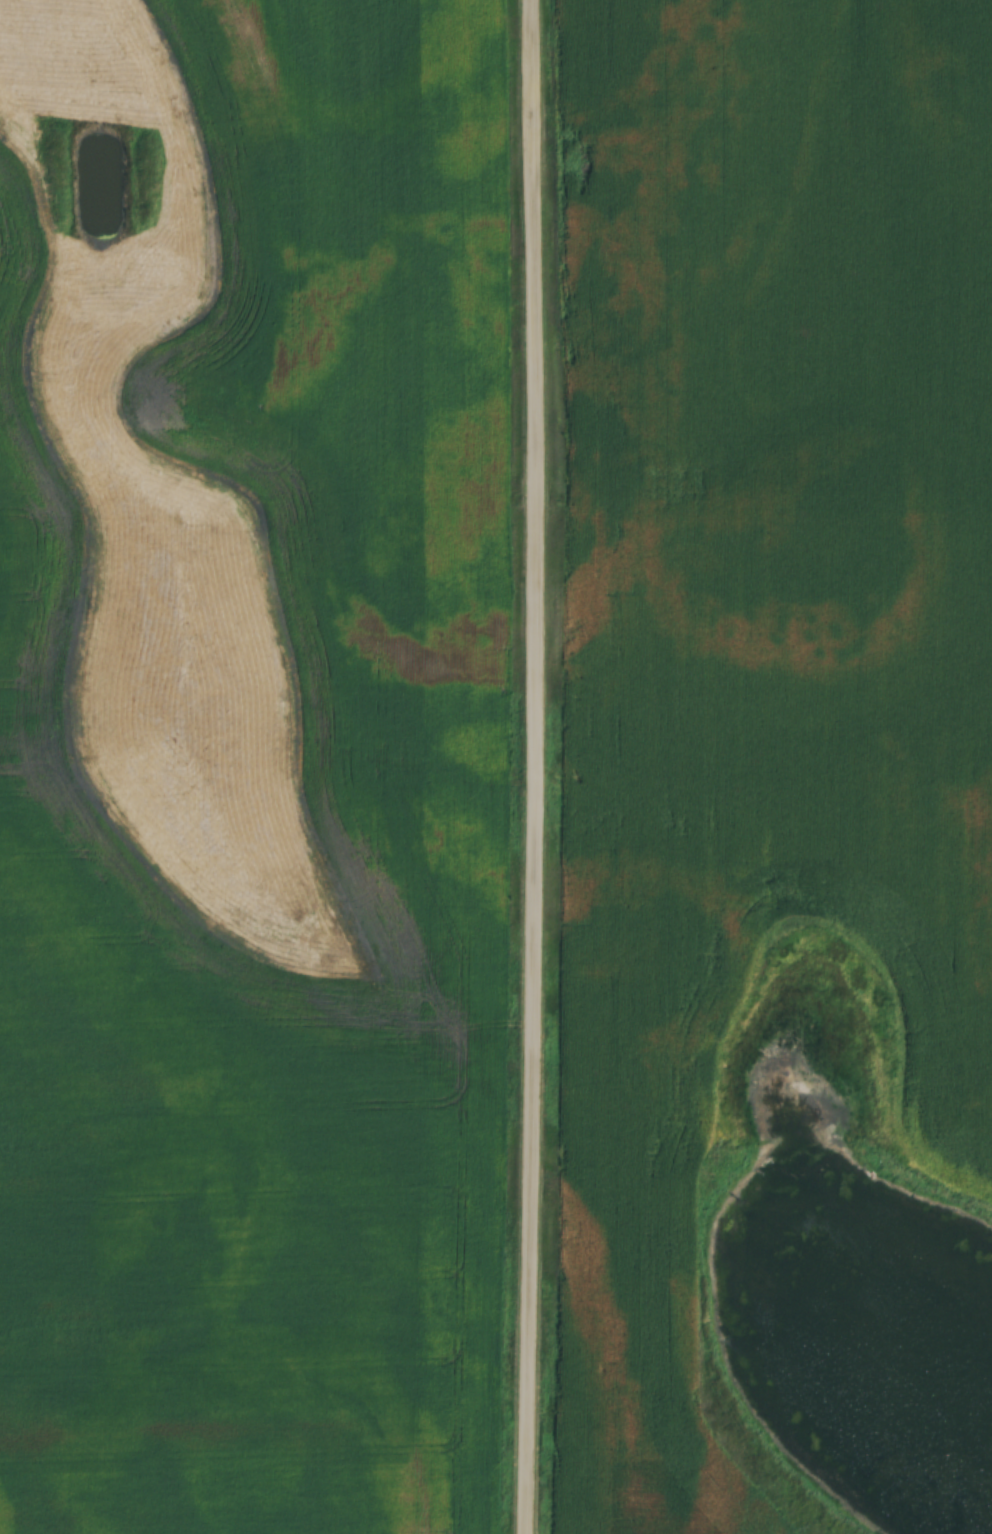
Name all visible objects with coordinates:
road: (522, 767)

